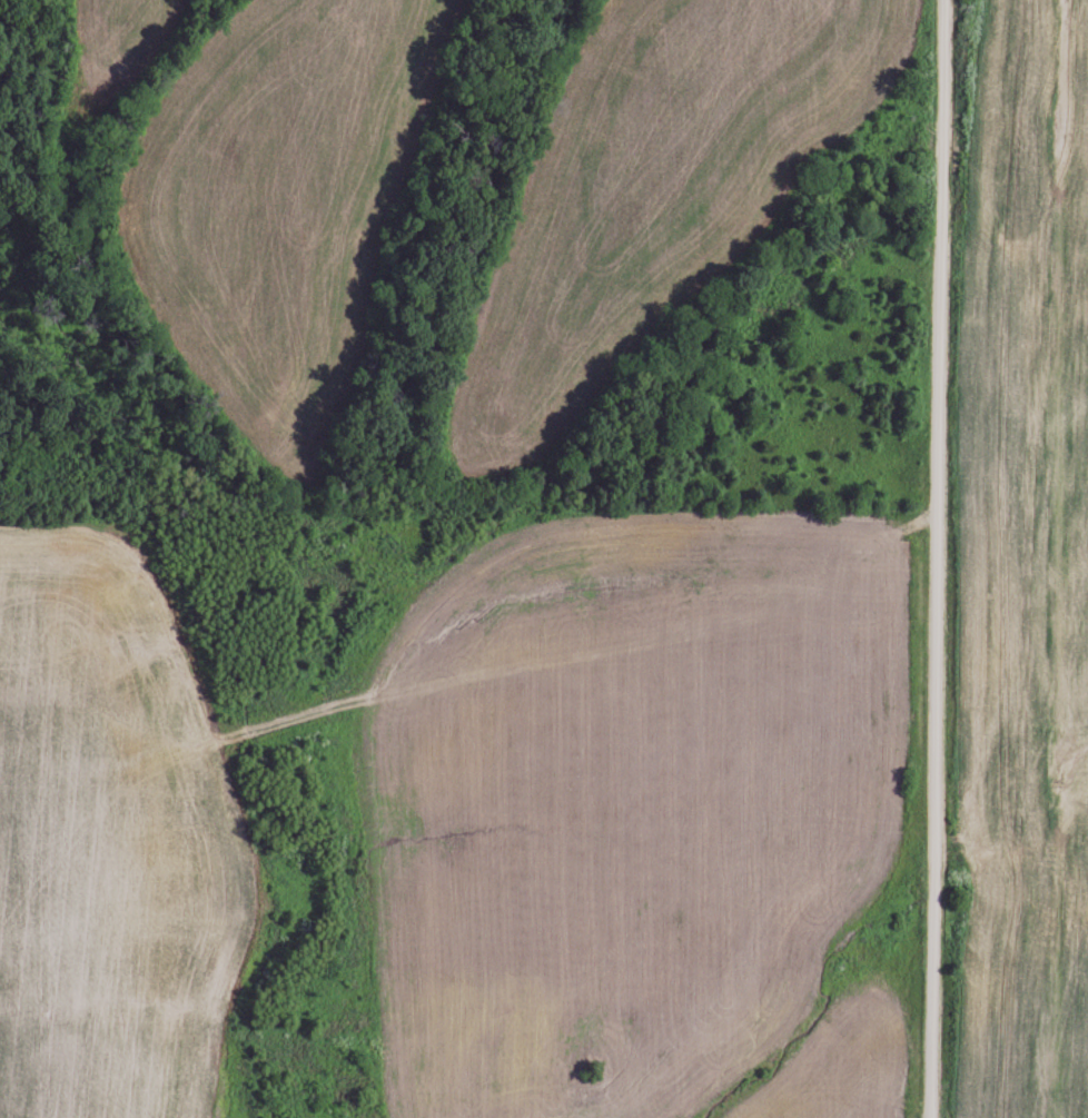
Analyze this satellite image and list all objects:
road: (946, 558)

